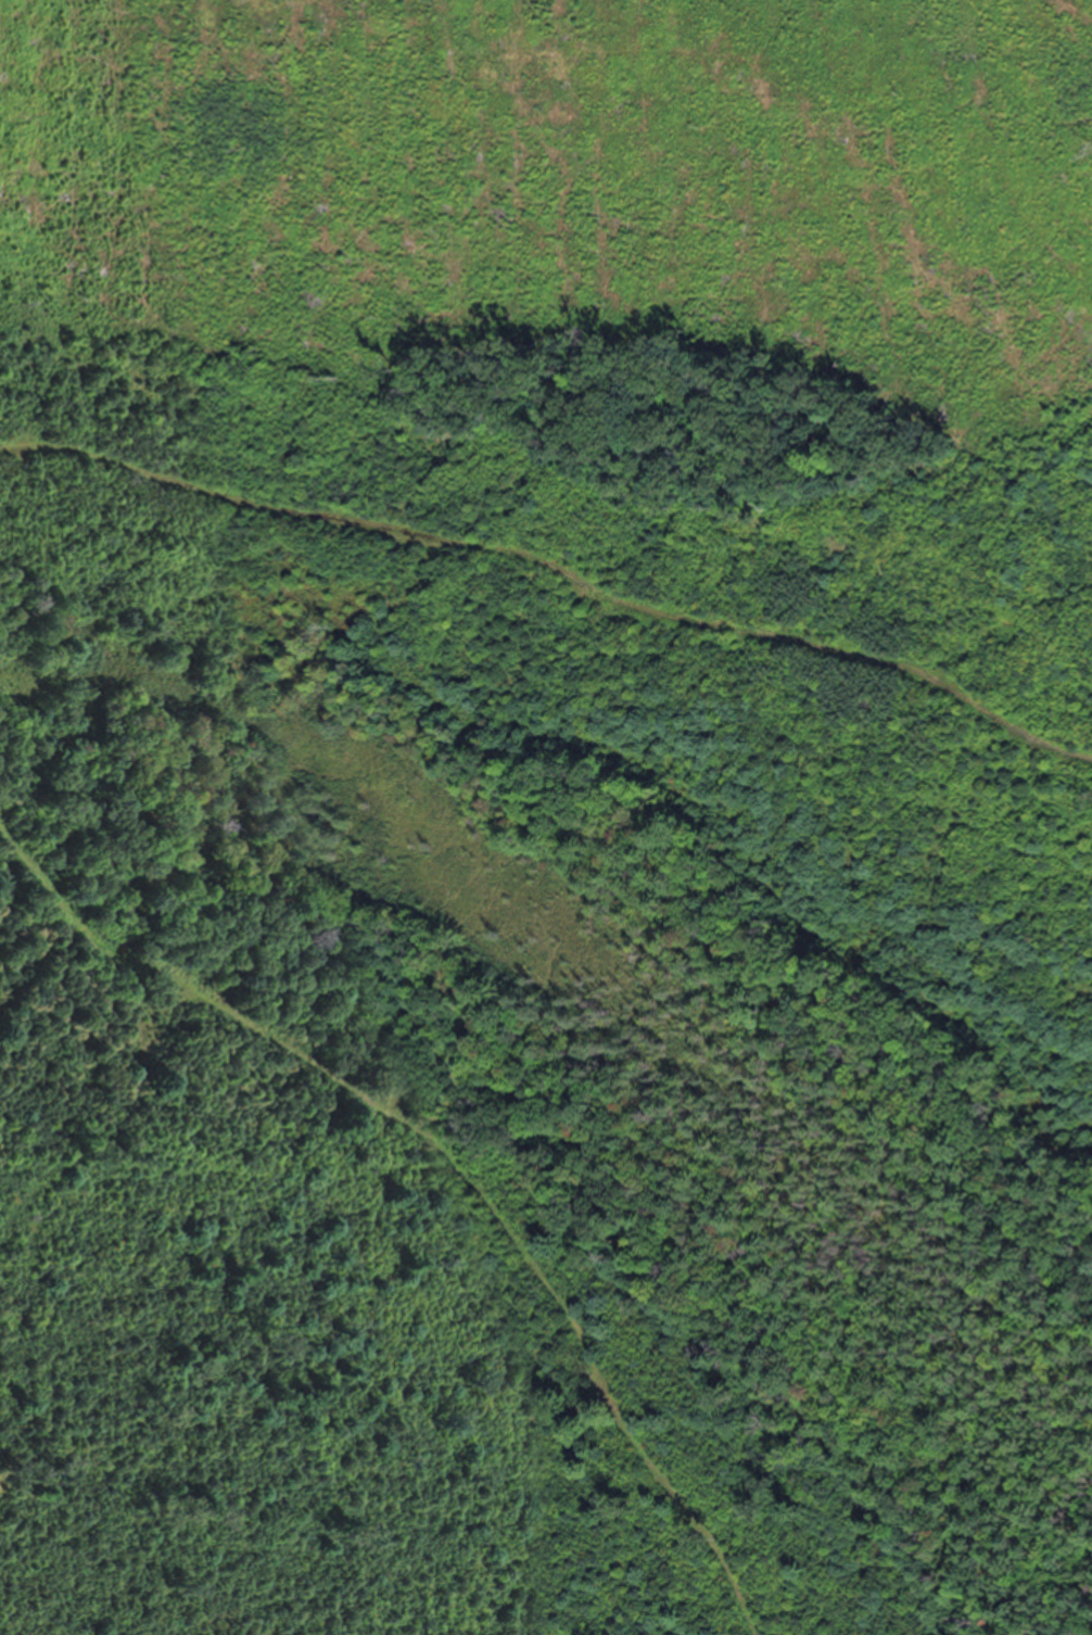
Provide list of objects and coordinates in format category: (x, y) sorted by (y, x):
park: (980, 1387)

